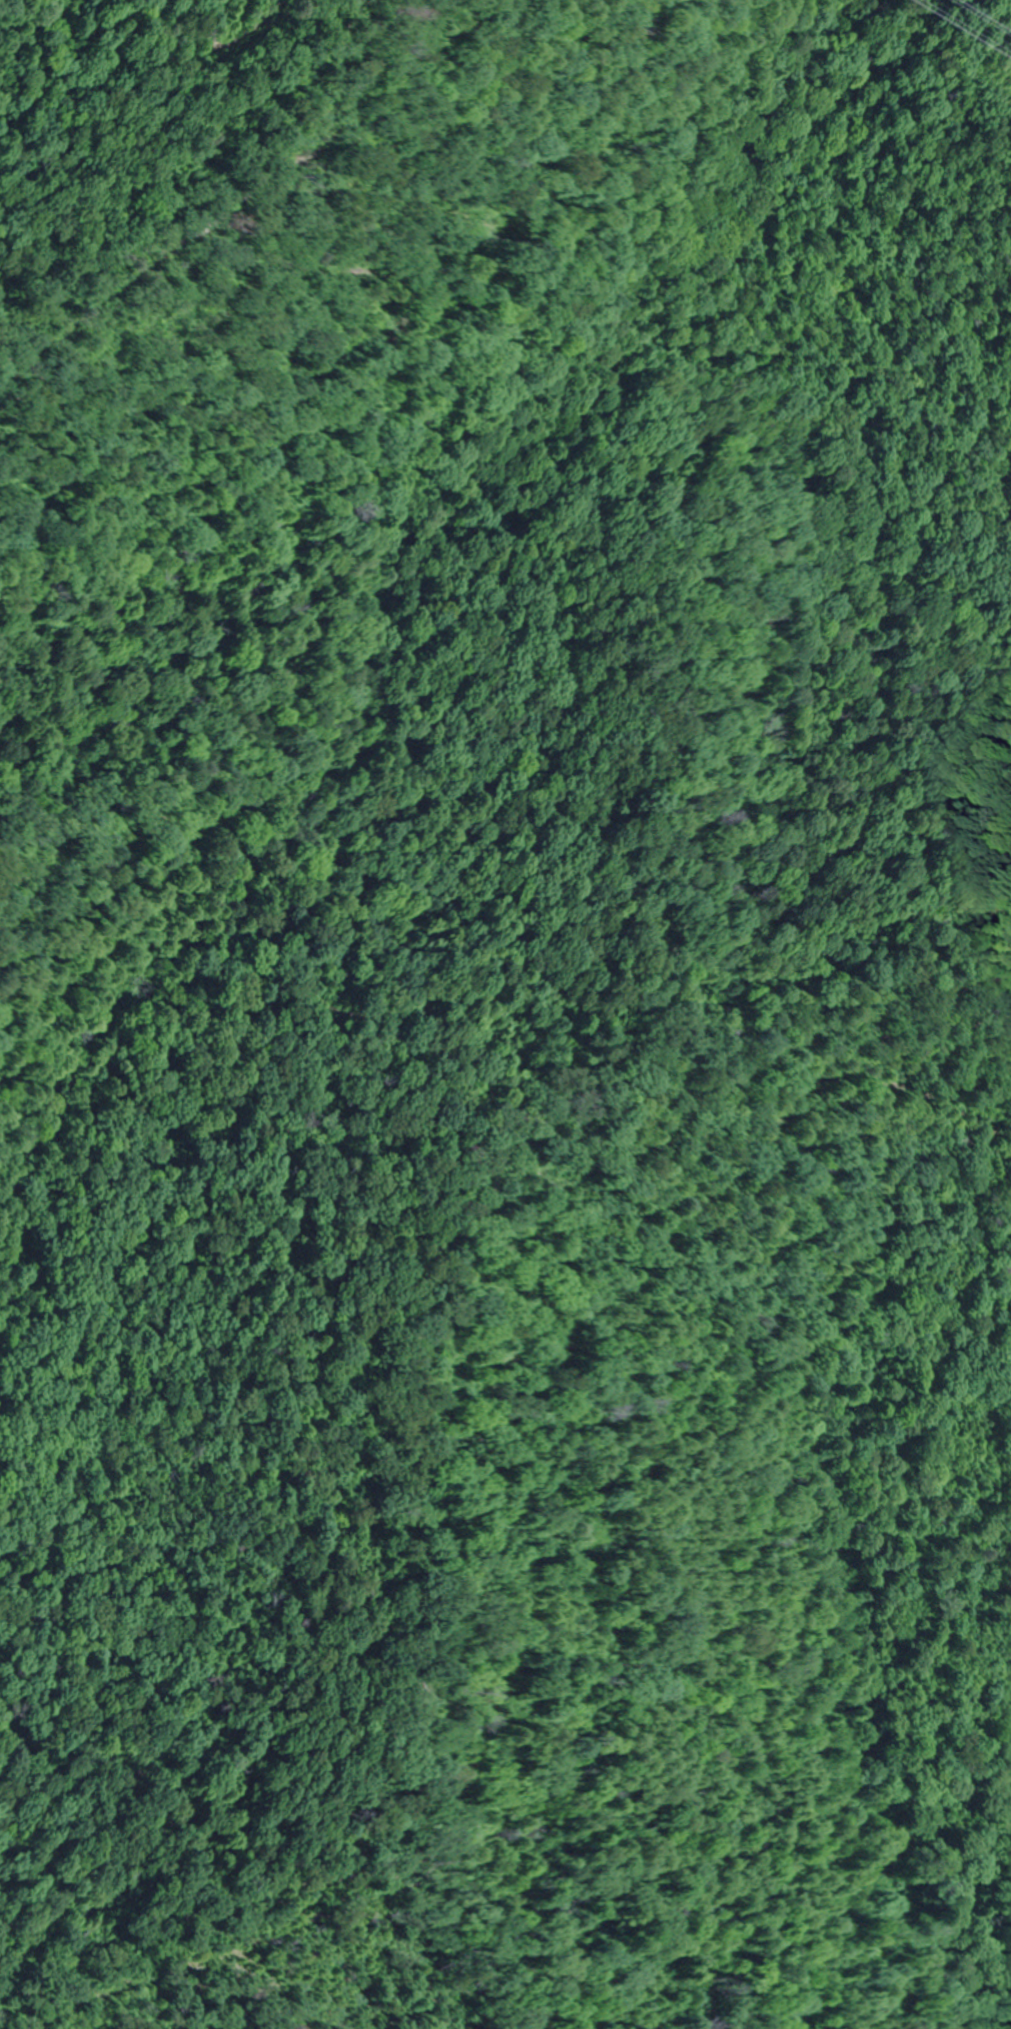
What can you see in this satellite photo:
road: (466, 1297)

